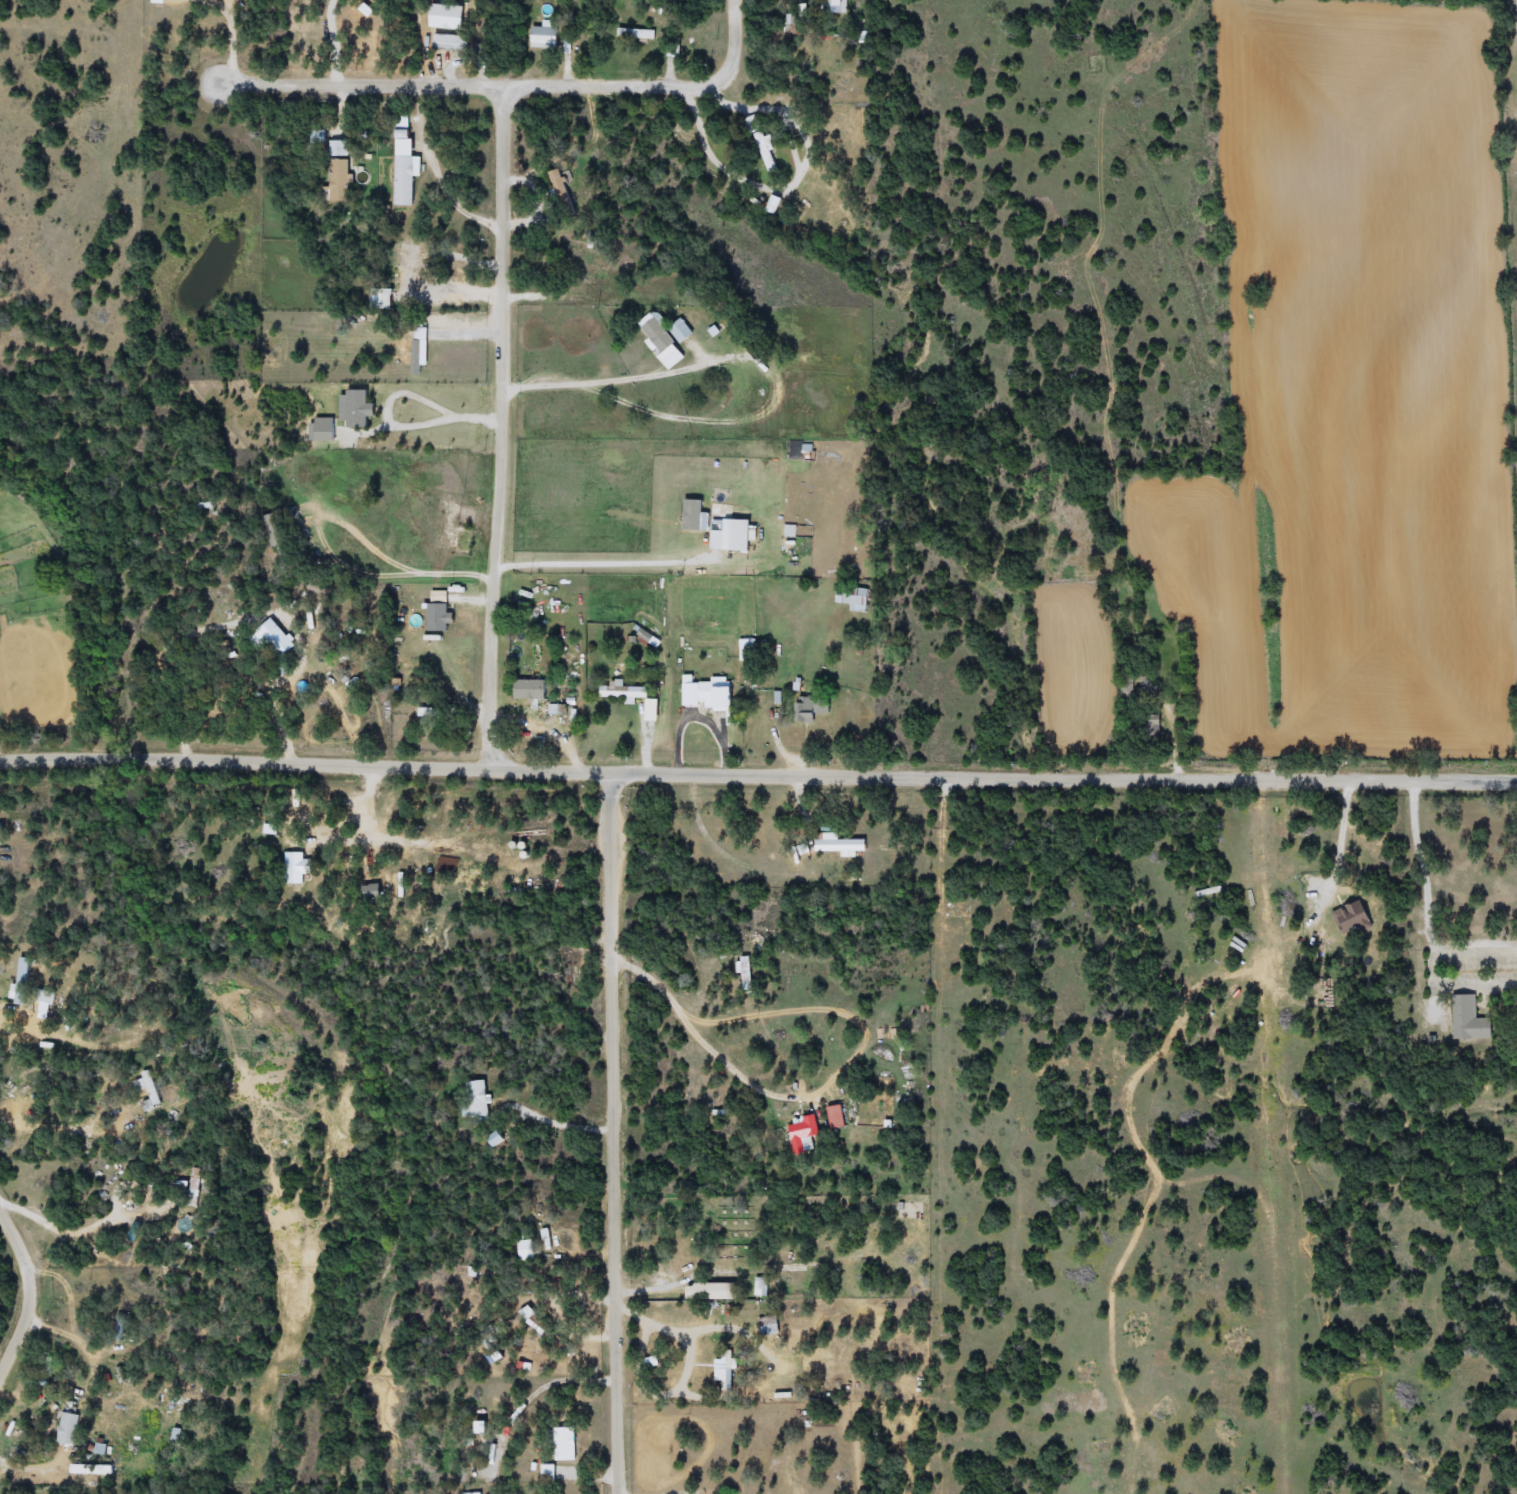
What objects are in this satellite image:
building: (835, 6)
building: (637, 34)
building: (544, 37)
road: (231, 40)
road: (338, 40)
building: (452, 42)
road: (512, 83)
building: (763, 143)
building: (339, 148)
building: (405, 164)
building: (339, 180)
road: (788, 187)
building: (776, 204)
building: (405, 268)
building: (682, 331)
building: (658, 334)
building: (414, 352)
road: (608, 376)
road: (402, 393)
road: (504, 425)
building: (696, 515)
building: (744, 535)
road: (612, 562)
road: (411, 567)
building: (853, 596)
building: (277, 638)
building: (532, 689)
building: (340, 690)
building: (1127, 690)
building: (624, 692)
building: (718, 696)
building: (813, 708)
road: (758, 768)
road: (1344, 834)
building: (843, 845)
building: (794, 860)
building: (295, 869)
road: (1429, 901)
building: (23, 981)
road: (1452, 986)
road: (12, 1007)
building: (1465, 1019)
road: (712, 1038)
building: (789, 1054)
building: (479, 1099)
building: (873, 1108)
road: (48, 1125)
road: (615, 1130)
building: (804, 1133)
road: (113, 1238)
building: (527, 1250)
building: (909, 1280)
road: (32, 1287)
building: (713, 1291)
building: (540, 1327)
building: (726, 1369)
building: (70, 1428)
building: (564, 1443)
road: (35, 1463)
building: (741, 1469)
road: (669, 1492)

